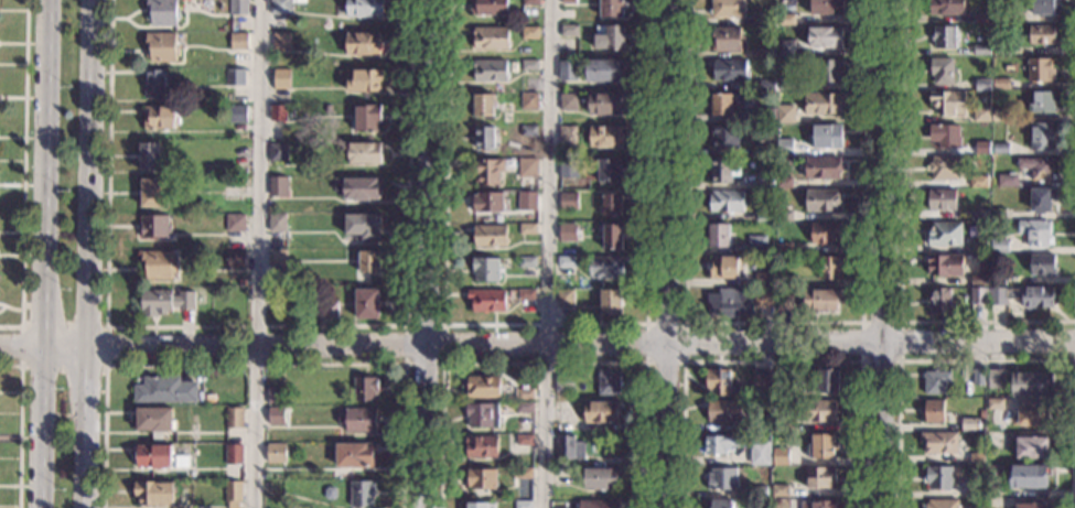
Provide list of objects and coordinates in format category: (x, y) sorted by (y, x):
building: (299, 0)
building: (568, 1)
building: (531, 2)
building: (279, 7)
building: (490, 7)
building: (946, 7)
building: (1043, 7)
building: (238, 8)
building: (364, 8)
building: (611, 8)
building: (827, 8)
building: (728, 9)
building: (162, 12)
building: (1000, 15)
building: (762, 18)
building: (787, 18)
building: (981, 18)
building: (569, 29)
building: (529, 33)
building: (1042, 34)
building: (609, 36)
building: (826, 36)
building: (944, 36)
building: (492, 39)
building: (727, 39)
building: (238, 41)
building: (281, 41)
building: (363, 43)
building: (160, 46)
building: (786, 47)
building: (1000, 48)
building: (982, 50)
building: (765, 51)
building: (529, 65)
building: (490, 69)
building: (605, 69)
building: (730, 69)
building: (942, 69)
building: (1040, 69)
building: (568, 71)
building: (829, 71)
building: (235, 77)
building: (281, 78)
building: (364, 80)
building: (157, 83)
building: (1000, 83)
building: (765, 84)
building: (787, 84)
building: (981, 84)
building: (529, 100)
building: (568, 101)
building: (947, 101)
building: (823, 102)
building: (603, 104)
building: (721, 104)
building: (1042, 104)
building: (483, 105)
building: (278, 112)
building: (786, 112)
building: (237, 114)
building: (767, 114)
building: (981, 114)
building: (999, 115)
building: (367, 117)
building: (160, 118)
building: (528, 131)
building: (567, 134)
building: (945, 134)
building: (605, 136)
building: (826, 136)
building: (1040, 136)
building: (724, 137)
building: (484, 138)
building: (784, 147)
building: (1000, 148)
building: (981, 149)
building: (765, 150)
building: (278, 152)
building: (364, 152)
building: (149, 156)
building: (823, 166)
building: (1036, 166)
building: (527, 167)
building: (567, 169)
building: (943, 169)
building: (608, 170)
building: (721, 171)
road: (428, 172)
building: (488, 172)
road: (23, 173)
building: (764, 179)
building: (977, 181)
building: (1007, 181)
building: (783, 182)
building: (278, 185)
building: (357, 187)
building: (152, 193)
building: (527, 196)
building: (824, 199)
building: (942, 199)
building: (1041, 199)
building: (727, 201)
building: (487, 202)
building: (568, 202)
building: (611, 204)
building: (997, 213)
building: (978, 214)
building: (763, 215)
building: (783, 215)
building: (235, 223)
building: (277, 223)
building: (154, 226)
building: (362, 226)
building: (527, 228)
building: (567, 233)
building: (824, 233)
building: (945, 233)
building: (1038, 233)
building: (718, 235)
building: (490, 236)
building: (610, 236)
building: (756, 245)
building: (978, 246)
building: (999, 246)
building: (783, 248)
road: (900, 248)
road: (41, 253)
road: (86, 253)
road: (255, 253)
road: (548, 253)
road: (669, 253)
road: (883, 253)
building: (276, 258)
building: (236, 259)
building: (368, 261)
building: (566, 261)
building: (527, 262)
building: (158, 263)
building: (944, 263)
building: (1042, 264)
building: (604, 267)
building: (723, 267)
building: (829, 267)
building: (485, 269)
building: (763, 279)
building: (979, 279)
building: (997, 279)
building: (788, 281)
building: (241, 282)
building: (526, 294)
building: (978, 295)
building: (1023, 295)
building: (565, 296)
building: (763, 298)
building: (938, 298)
building: (820, 299)
building: (487, 301)
building: (783, 301)
building: (163, 302)
building: (611, 302)
building: (729, 302)
building: (366, 303)
building: (326, 310)
road: (771, 324)
road: (542, 326)
road: (107, 327)
road: (255, 327)
road: (537, 345)
road: (1074, 350)
road: (899, 360)
road: (987, 361)
road: (772, 363)
road: (441, 364)
road: (542, 364)
road: (644, 364)
road: (255, 365)
building: (978, 376)
building: (995, 378)
building: (762, 379)
building: (827, 380)
building: (935, 380)
building: (719, 381)
building: (563, 382)
building: (609, 382)
building: (482, 385)
building: (1029, 385)
building: (783, 386)
building: (365, 388)
building: (164, 389)
building: (525, 392)
building: (277, 396)
building: (996, 402)
building: (562, 404)
building: (525, 407)
building: (819, 409)
building: (600, 410)
building: (934, 410)
building: (724, 411)
building: (1033, 412)
building: (982, 413)
building: (276, 414)
building: (482, 414)
building: (234, 418)
building: (155, 419)
building: (358, 419)
building: (566, 424)
road: (20, 425)
building: (782, 425)
building: (968, 425)
road: (422, 426)
building: (761, 426)
building: (524, 439)
building: (995, 439)
building: (939, 442)
building: (719, 443)
building: (772, 444)
building: (482, 445)
building: (569, 445)
building: (823, 446)
building: (1032, 446)
building: (277, 452)
building: (759, 453)
building: (234, 454)
building: (354, 454)
building: (158, 455)
building: (781, 455)
building: (977, 458)
building: (524, 473)
building: (993, 473)
building: (561, 475)
building: (1029, 475)
building: (820, 476)
building: (481, 477)
building: (600, 477)
building: (721, 477)
building: (938, 477)
building: (781, 489)
building: (974, 489)
building: (154, 490)
building: (757, 491)
building: (233, 493)
building: (362, 493)
building: (598, 502)
building: (719, 502)
building: (523, 504)
building: (940, 504)
building: (479, 505)
building: (818, 505)
building: (1032, 505)
building: (561, 507)

